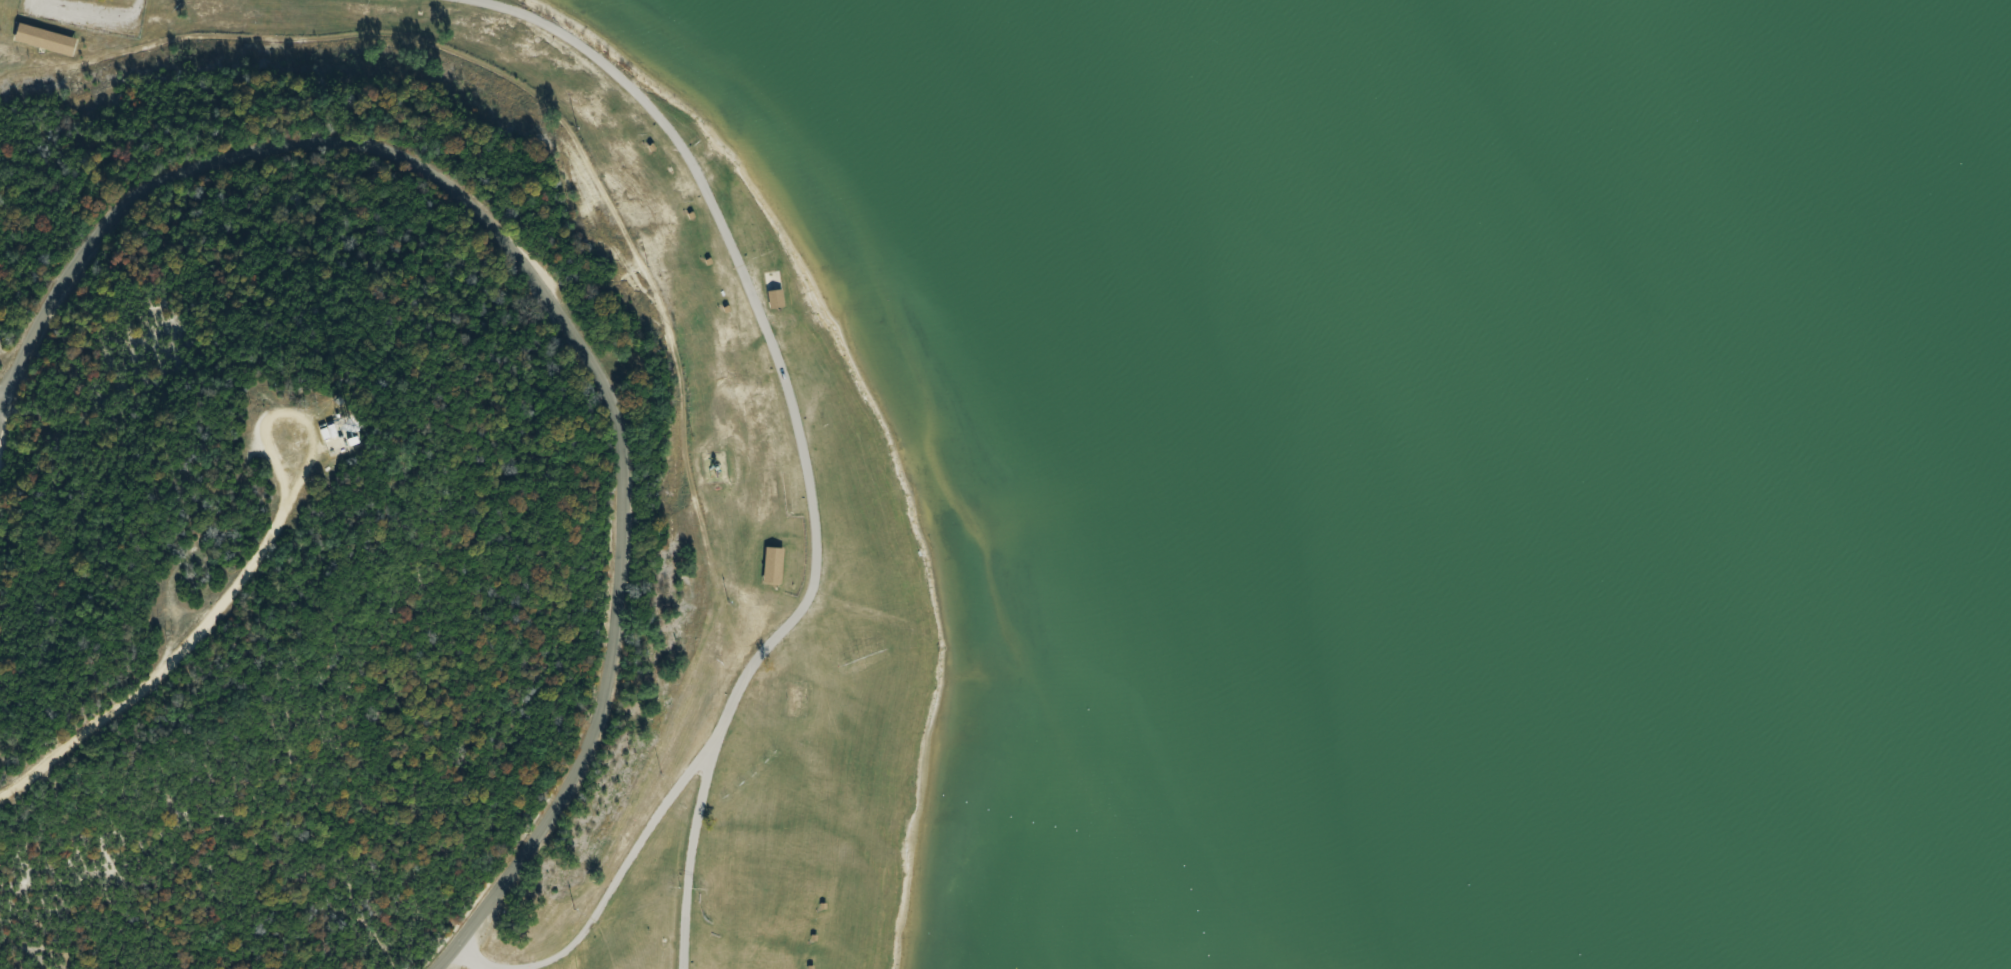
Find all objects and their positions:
building: (44, 40)
building: (777, 299)
road: (562, 301)
park: (431, 514)
building: (772, 566)

